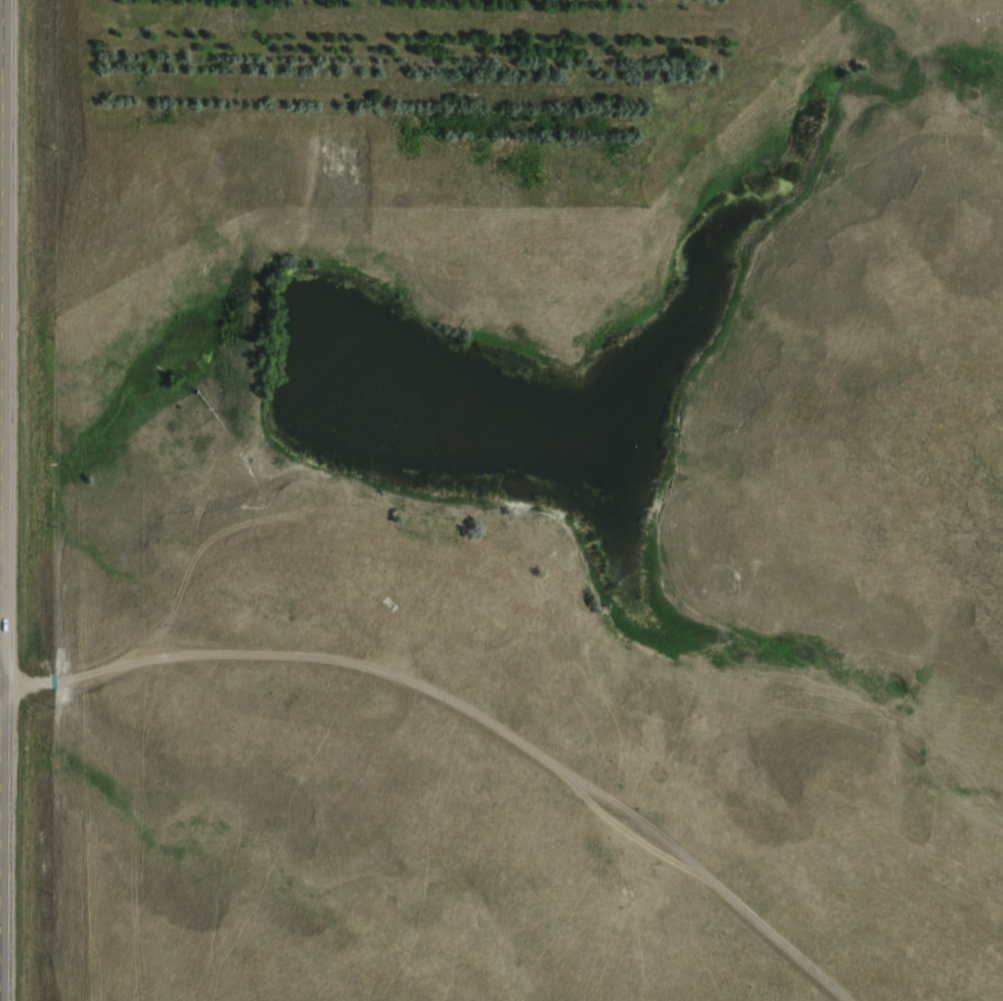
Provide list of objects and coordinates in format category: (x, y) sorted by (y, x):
road: (453, 714)

